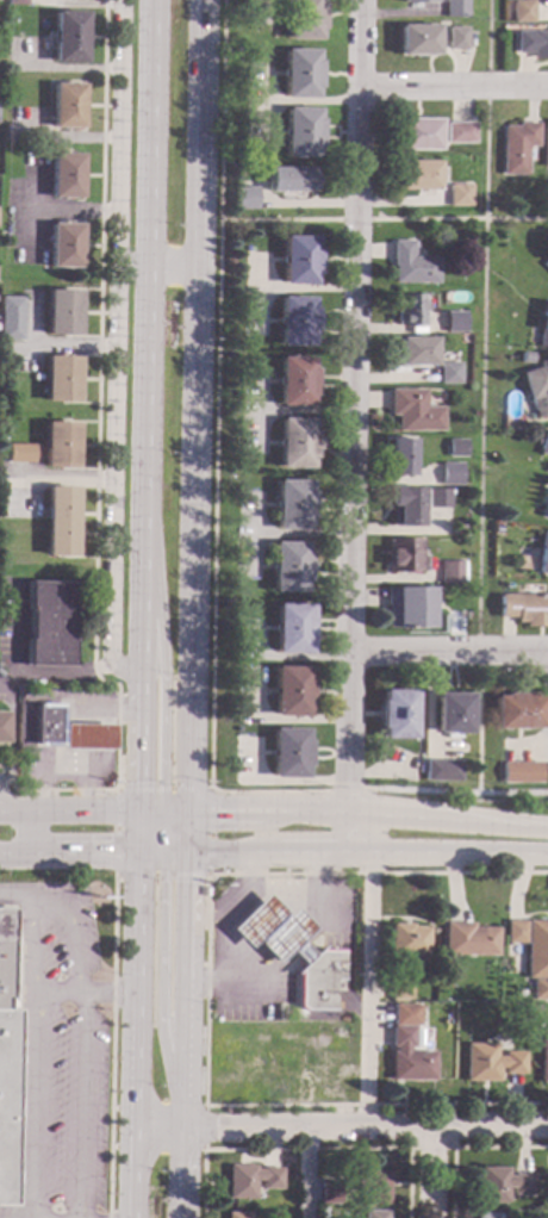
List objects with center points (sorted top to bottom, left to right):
building: (544, 0)
building: (415, 1)
building: (15, 2)
building: (454, 10)
building: (521, 12)
building: (303, 19)
building: (68, 38)
building: (455, 38)
building: (415, 41)
building: (531, 44)
building: (299, 74)
road: (453, 89)
building: (66, 106)
building: (300, 132)
road: (119, 133)
building: (459, 133)
building: (416, 135)
building: (544, 145)
building: (516, 148)
building: (66, 176)
building: (417, 176)
building: (291, 180)
building: (459, 197)
building: (243, 199)
road: (384, 220)
building: (6, 244)
building: (64, 246)
road: (144, 246)
building: (298, 261)
building: (546, 265)
building: (411, 267)
road: (156, 268)
building: (409, 310)
building: (62, 313)
building: (11, 318)
building: (294, 322)
building: (454, 323)
building: (543, 327)
building: (411, 352)
building: (525, 359)
building: (448, 374)
building: (61, 380)
building: (294, 383)
building: (537, 389)
road: (216, 393)
road: (480, 397)
road: (192, 403)
building: (413, 412)
road: (354, 428)
building: (295, 443)
building: (543, 445)
building: (60, 446)
building: (455, 448)
building: (18, 453)
building: (399, 456)
road: (95, 467)
building: (449, 474)
road: (114, 479)
building: (437, 499)
building: (293, 505)
building: (404, 507)
building: (547, 515)
building: (60, 522)
building: (0, 532)
building: (542, 555)
building: (403, 557)
building: (288, 567)
building: (450, 573)
road: (141, 584)
building: (409, 608)
building: (524, 610)
building: (48, 623)
building: (292, 629)
road: (163, 648)
road: (449, 653)
building: (0, 673)
road: (25, 677)
building: (291, 691)
building: (517, 711)
building: (452, 714)
building: (396, 715)
building: (48, 725)
building: (2, 728)
road: (12, 735)
gas station: (68, 738)
road: (138, 740)
building: (288, 753)
building: (441, 771)
building: (518, 771)
traffic signals: (138, 783)
traffic signals: (164, 783)
road: (114, 789)
road: (341, 789)
road: (266, 791)
road: (454, 793)
road: (502, 800)
road: (151, 806)
road: (175, 807)
road: (6, 808)
traffic signals: (217, 808)
road: (75, 809)
road: (367, 809)
road: (6, 813)
road: (157, 827)
road: (137, 831)
road: (25, 832)
road: (186, 832)
road: (167, 835)
road: (25, 851)
road: (93, 853)
traffic signals: (107, 855)
road: (150, 856)
road: (355, 856)
traffic signals: (185, 882)
traffic signals: (162, 883)
road: (15, 896)
road: (44, 907)
road: (185, 916)
building: (512, 931)
building: (406, 939)
building: (467, 939)
road: (73, 949)
gas station: (284, 950)
building: (536, 957)
building: (319, 976)
road: (158, 983)
building: (398, 988)
road: (366, 992)
road: (85, 993)
road: (206, 993)
building: (518, 993)
building: (403, 1014)
road: (135, 1037)
road: (111, 1046)
road: (183, 1050)
parking lot: (58, 1055)
building: (542, 1055)
building: (407, 1056)
building: (488, 1062)
road: (35, 1063)
building: (6, 1071)
road: (81, 1105)
road: (158, 1123)
road: (365, 1126)
road: (204, 1127)
road: (465, 1146)
road: (307, 1148)
road: (431, 1148)
road: (182, 1163)
road: (303, 1172)
road: (429, 1173)
building: (250, 1179)
building: (500, 1183)
building: (374, 1186)
building: (328, 1191)
road: (181, 1211)
building: (374, 1213)
building: (237, 1214)
building: (485, 1214)

